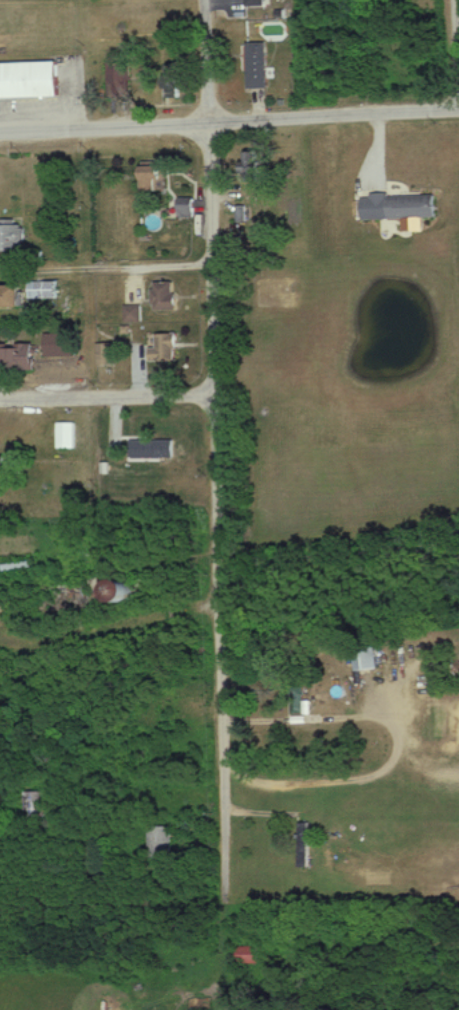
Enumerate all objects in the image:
building: (258, 2)
road: (457, 53)
road: (205, 61)
building: (260, 65)
building: (31, 79)
road: (229, 121)
building: (157, 177)
building: (401, 204)
building: (13, 237)
road: (105, 267)
building: (46, 289)
building: (168, 295)
building: (13, 296)
building: (134, 313)
building: (63, 344)
building: (168, 346)
building: (19, 358)
road: (106, 395)
building: (66, 435)
road: (217, 533)
road: (109, 627)
building: (368, 659)
building: (34, 804)
building: (161, 842)
building: (306, 844)

